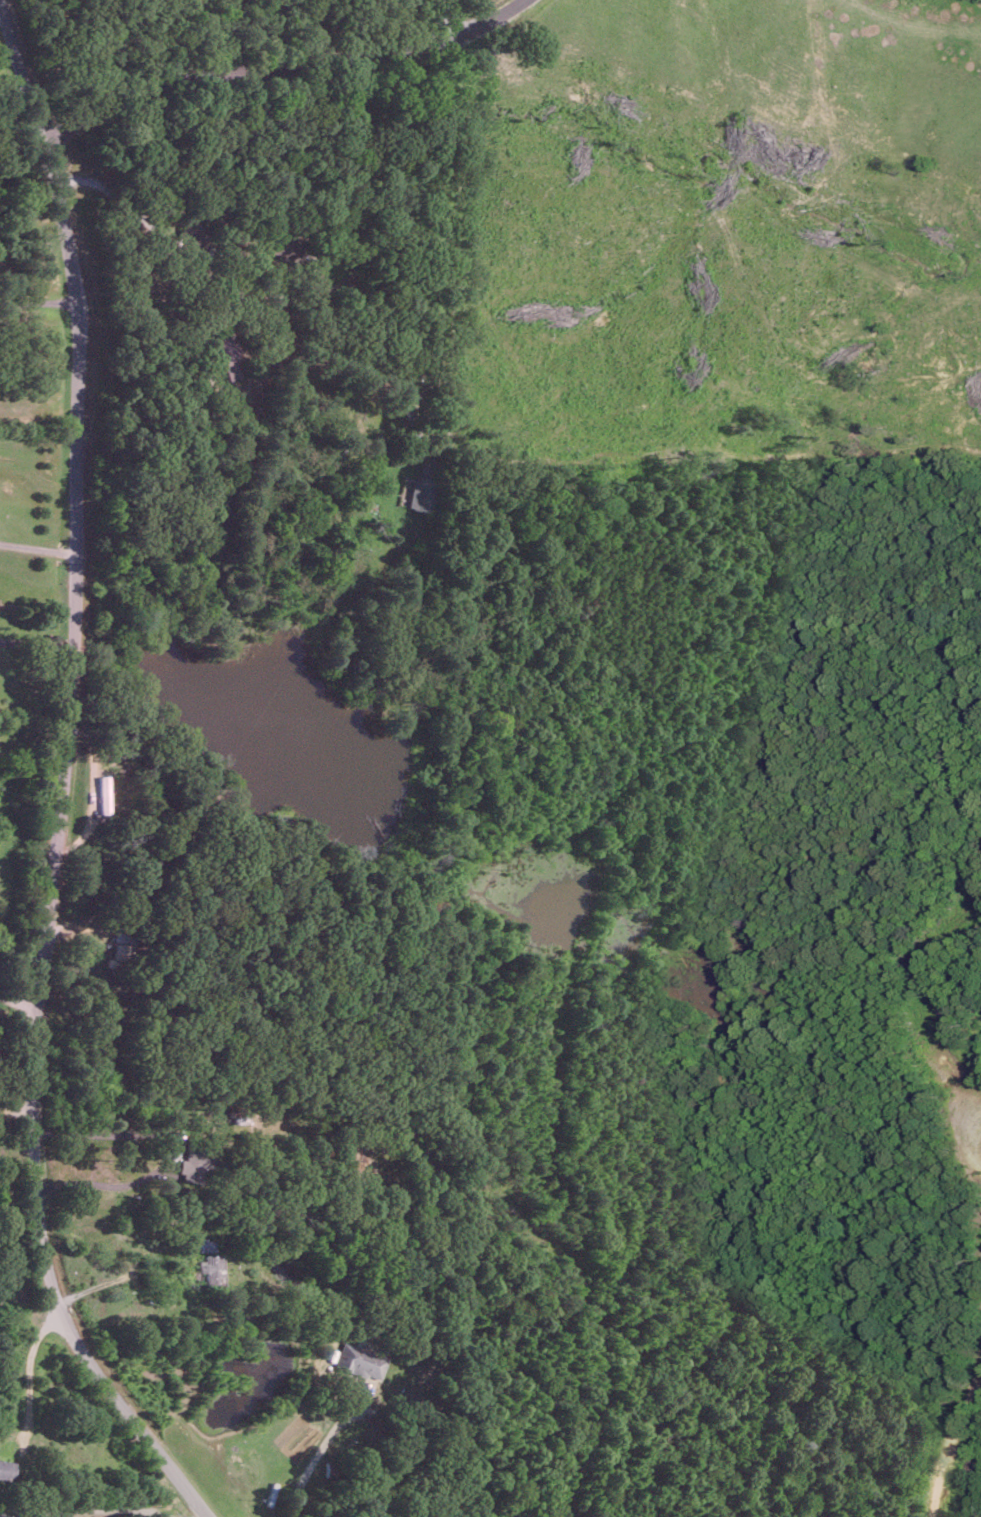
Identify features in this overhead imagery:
road: (481, 25)
road: (253, 67)
building: (191, 234)
building: (286, 250)
road: (36, 266)
road: (340, 361)
building: (422, 488)
road: (37, 548)
road: (35, 642)
road: (59, 781)
building: (102, 794)
road: (17, 997)
road: (17, 1110)
building: (195, 1164)
road: (97, 1183)
road: (129, 1267)
building: (215, 1269)
building: (360, 1361)
road: (30, 1373)
road: (320, 1449)
building: (7, 1469)
road: (105, 1501)

